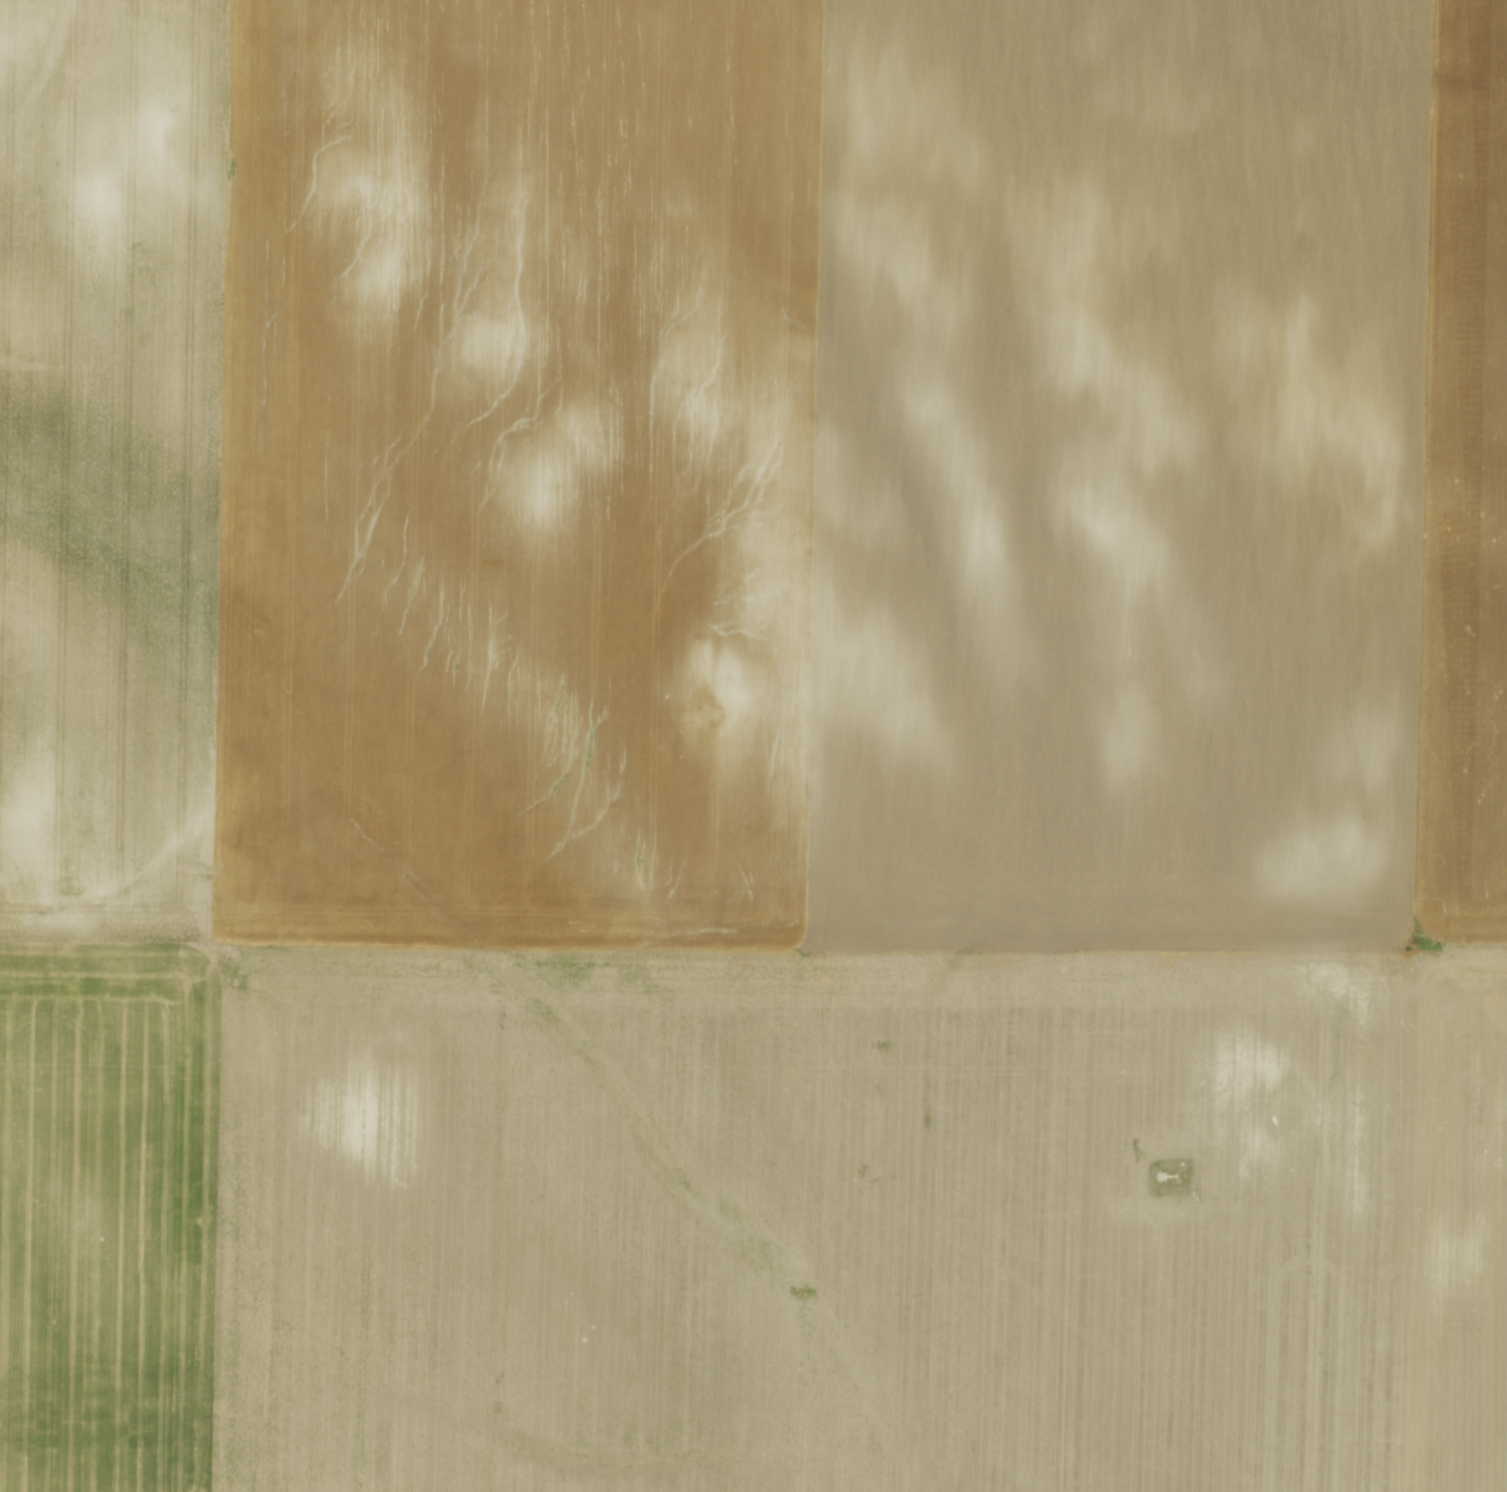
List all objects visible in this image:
crop: (753, 746)

